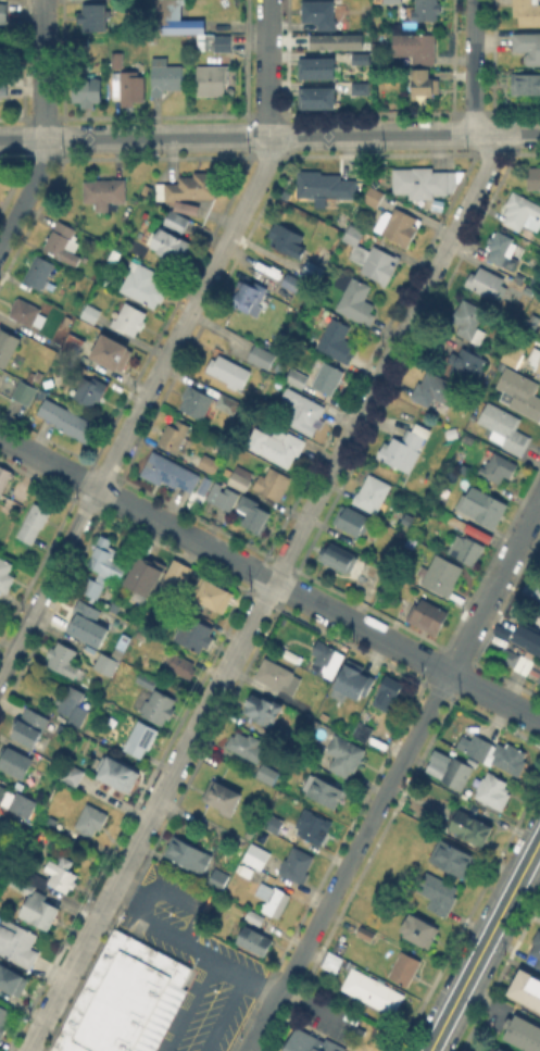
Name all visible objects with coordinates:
building: (393, 2)
building: (425, 10)
building: (319, 12)
building: (527, 12)
building: (96, 15)
building: (4, 16)
building: (173, 20)
building: (327, 41)
building: (219, 42)
building: (528, 48)
building: (415, 49)
building: (357, 58)
building: (118, 62)
building: (314, 67)
road: (474, 68)
building: (165, 75)
building: (209, 77)
building: (424, 84)
building: (525, 85)
building: (131, 87)
building: (350, 89)
building: (3, 90)
building: (86, 90)
building: (309, 99)
road: (45, 129)
road: (269, 136)
building: (535, 179)
building: (420, 182)
building: (325, 184)
building: (192, 185)
building: (105, 192)
building: (188, 208)
building: (522, 212)
building: (393, 218)
building: (176, 220)
building: (287, 238)
building: (63, 241)
building: (172, 243)
building: (499, 247)
building: (323, 254)
building: (372, 257)
building: (39, 271)
building: (312, 271)
building: (289, 279)
building: (485, 281)
building: (143, 284)
building: (247, 293)
building: (354, 298)
building: (24, 311)
building: (91, 312)
building: (130, 318)
building: (469, 320)
building: (337, 339)
building: (8, 345)
building: (73, 345)
road: (171, 347)
building: (112, 351)
building: (512, 355)
building: (262, 358)
building: (535, 360)
building: (466, 363)
building: (228, 371)
building: (297, 376)
building: (328, 376)
building: (435, 388)
building: (90, 389)
building: (522, 389)
building: (25, 391)
building: (196, 400)
building: (227, 402)
building: (303, 412)
building: (68, 422)
building: (504, 426)
building: (454, 431)
building: (174, 434)
building: (276, 445)
building: (403, 449)
building: (209, 465)
building: (498, 466)
building: (169, 471)
building: (4, 476)
building: (240, 477)
building: (272, 481)
building: (373, 492)
building: (225, 495)
building: (482, 505)
building: (253, 512)
building: (352, 520)
building: (34, 522)
building: (466, 548)
building: (338, 555)
building: (102, 566)
building: (441, 573)
building: (5, 574)
building: (146, 577)
building: (174, 578)
road: (271, 578)
building: (531, 588)
building: (213, 593)
road: (266, 593)
building: (429, 615)
building: (91, 623)
building: (499, 630)
building: (194, 633)
building: (526, 637)
building: (117, 652)
building: (62, 656)
building: (513, 659)
building: (328, 660)
building: (180, 663)
building: (106, 665)
building: (274, 673)
building: (146, 679)
building: (354, 681)
building: (539, 681)
building: (388, 692)
building: (159, 706)
building: (264, 708)
building: (73, 710)
building: (315, 723)
building: (30, 728)
building: (363, 729)
building: (141, 738)
building: (247, 746)
building: (495, 752)
building: (341, 754)
building: (15, 761)
building: (300, 761)
building: (117, 772)
building: (266, 772)
building: (456, 772)
building: (73, 776)
road: (395, 776)
building: (319, 789)
building: (493, 790)
building: (2, 794)
building: (224, 797)
building: (23, 805)
building: (91, 818)
building: (271, 822)
building: (473, 822)
building: (310, 825)
building: (66, 828)
building: (0, 836)
building: (189, 853)
building: (256, 854)
building: (453, 858)
building: (297, 863)
building: (61, 877)
building: (218, 878)
building: (21, 883)
building: (438, 892)
building: (273, 898)
building: (40, 913)
building: (255, 915)
road: (190, 922)
building: (419, 928)
building: (366, 931)
building: (255, 939)
building: (17, 941)
building: (535, 946)
road: (486, 947)
building: (405, 967)
building: (13, 978)
building: (369, 990)
building: (527, 993)
building: (124, 998)
road: (189, 1004)
road: (307, 1008)
road: (222, 1012)
building: (4, 1018)
building: (525, 1030)
building: (309, 1042)
building: (499, 1048)

